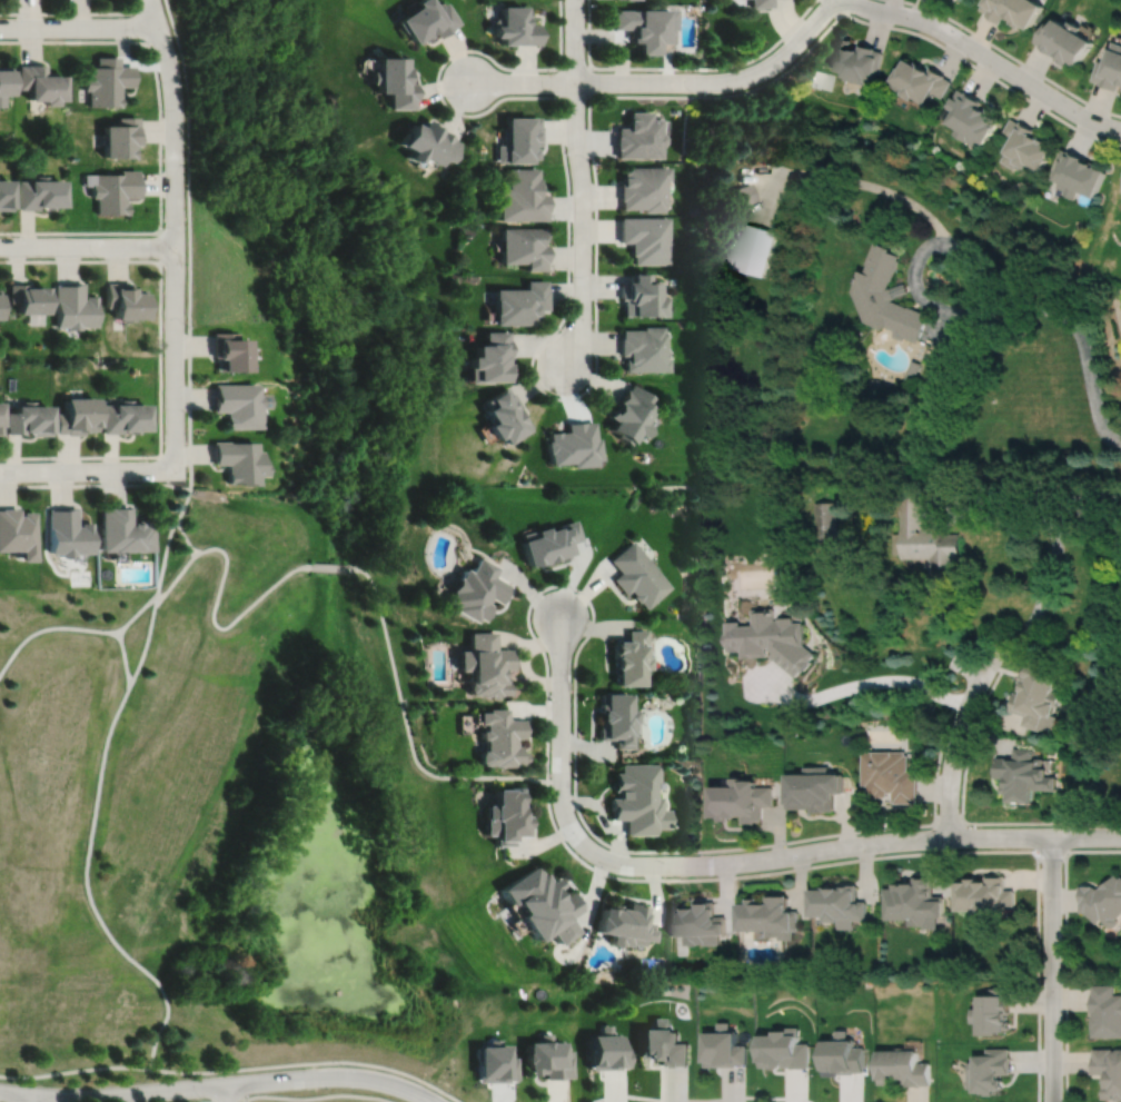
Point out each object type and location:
street lamp: (587, 2)
building: (761, 3)
road: (840, 7)
building: (1013, 9)
road: (72, 12)
street lamp: (11, 16)
building: (427, 20)
road: (143, 24)
road: (79, 26)
building: (516, 26)
building: (643, 26)
street lamp: (142, 39)
building: (1064, 39)
road: (575, 40)
street lamp: (768, 53)
road: (1011, 56)
road: (989, 59)
building: (857, 60)
street lamp: (970, 60)
building: (1110, 67)
road: (683, 68)
building: (106, 79)
building: (394, 79)
building: (920, 79)
building: (4, 80)
building: (42, 81)
road: (437, 81)
road: (523, 81)
road: (588, 81)
road: (721, 81)
street lamp: (552, 92)
street lamp: (694, 93)
street lamp: (444, 95)
street lamp: (1068, 95)
street lamp: (163, 108)
building: (972, 117)
building: (120, 136)
building: (638, 136)
building: (518, 137)
building: (427, 140)
road: (161, 142)
building: (1023, 145)
street lamp: (591, 163)
building: (1077, 172)
road: (595, 176)
road: (843, 179)
building: (643, 187)
building: (112, 188)
building: (42, 191)
building: (6, 192)
building: (741, 193)
building: (523, 195)
road: (583, 224)
street lamp: (163, 225)
road: (176, 234)
street lamp: (14, 235)
building: (645, 238)
road: (190, 242)
building: (525, 245)
road: (87, 246)
road: (161, 246)
building: (750, 248)
street lamp: (99, 257)
street lamp: (572, 275)
building: (886, 296)
building: (641, 297)
building: (30, 298)
building: (123, 299)
building: (520, 301)
building: (0, 305)
building: (73, 306)
road: (963, 316)
street lamp: (186, 324)
road: (1082, 346)
building: (644, 349)
building: (230, 350)
road: (161, 357)
building: (490, 357)
building: (913, 370)
street lamp: (579, 390)
building: (239, 403)
building: (77, 415)
building: (505, 415)
building: (628, 415)
building: (1, 416)
building: (123, 416)
building: (30, 418)
building: (573, 445)
street lamp: (54, 459)
street lamp: (152, 459)
building: (238, 460)
road: (83, 469)
road: (95, 484)
building: (825, 520)
building: (122, 530)
road: (1052, 532)
building: (18, 533)
building: (68, 533)
road: (187, 537)
building: (924, 538)
building: (552, 543)
road: (329, 566)
road: (221, 576)
building: (638, 576)
building: (478, 590)
street lamp: (577, 590)
road: (49, 627)
building: (770, 641)
road: (125, 658)
building: (629, 659)
building: (486, 665)
road: (547, 665)
road: (859, 684)
street lamp: (550, 698)
building: (1040, 699)
building: (616, 721)
road: (408, 729)
building: (503, 738)
road: (969, 742)
road: (955, 743)
road: (936, 762)
building: (1024, 774)
building: (891, 775)
road: (99, 786)
building: (814, 786)
building: (637, 797)
building: (741, 797)
park: (224, 811)
building: (507, 814)
road: (1034, 836)
street lamp: (785, 844)
road: (1051, 850)
street lamp: (877, 852)
street lamp: (1039, 862)
road: (646, 865)
street lamp: (608, 871)
building: (985, 892)
building: (1102, 899)
building: (914, 900)
building: (840, 902)
building: (543, 903)
building: (771, 914)
building: (697, 921)
building: (623, 922)
road: (1064, 949)
park: (652, 969)
road: (1050, 969)
building: (994, 1010)
building: (1105, 1010)
building: (662, 1043)
building: (724, 1046)
building: (606, 1049)
building: (784, 1049)
building: (843, 1054)
building: (549, 1056)
road: (309, 1062)
building: (497, 1062)
street lamp: (344, 1064)
building: (903, 1066)
building: (991, 1069)
road: (75, 1070)
building: (1109, 1070)
road: (206, 1086)
road: (228, 1093)
road: (425, 1095)
road: (417, 1096)
street lamp: (204, 1098)
road: (318, 1098)
road: (28, 1099)
road: (700, 1100)
road: (238, 1101)
road: (246, 1101)

